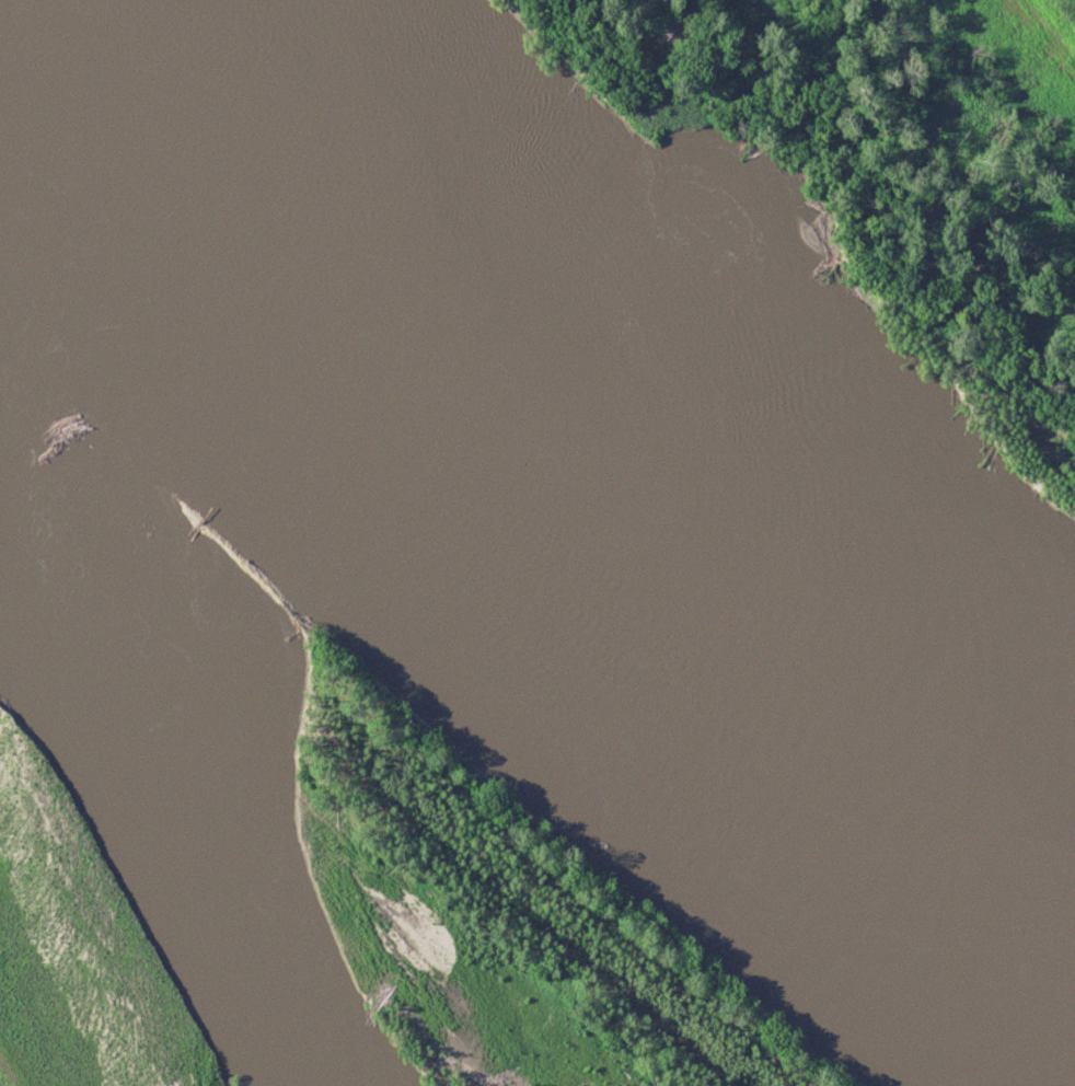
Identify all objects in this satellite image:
river: (597, 449)

